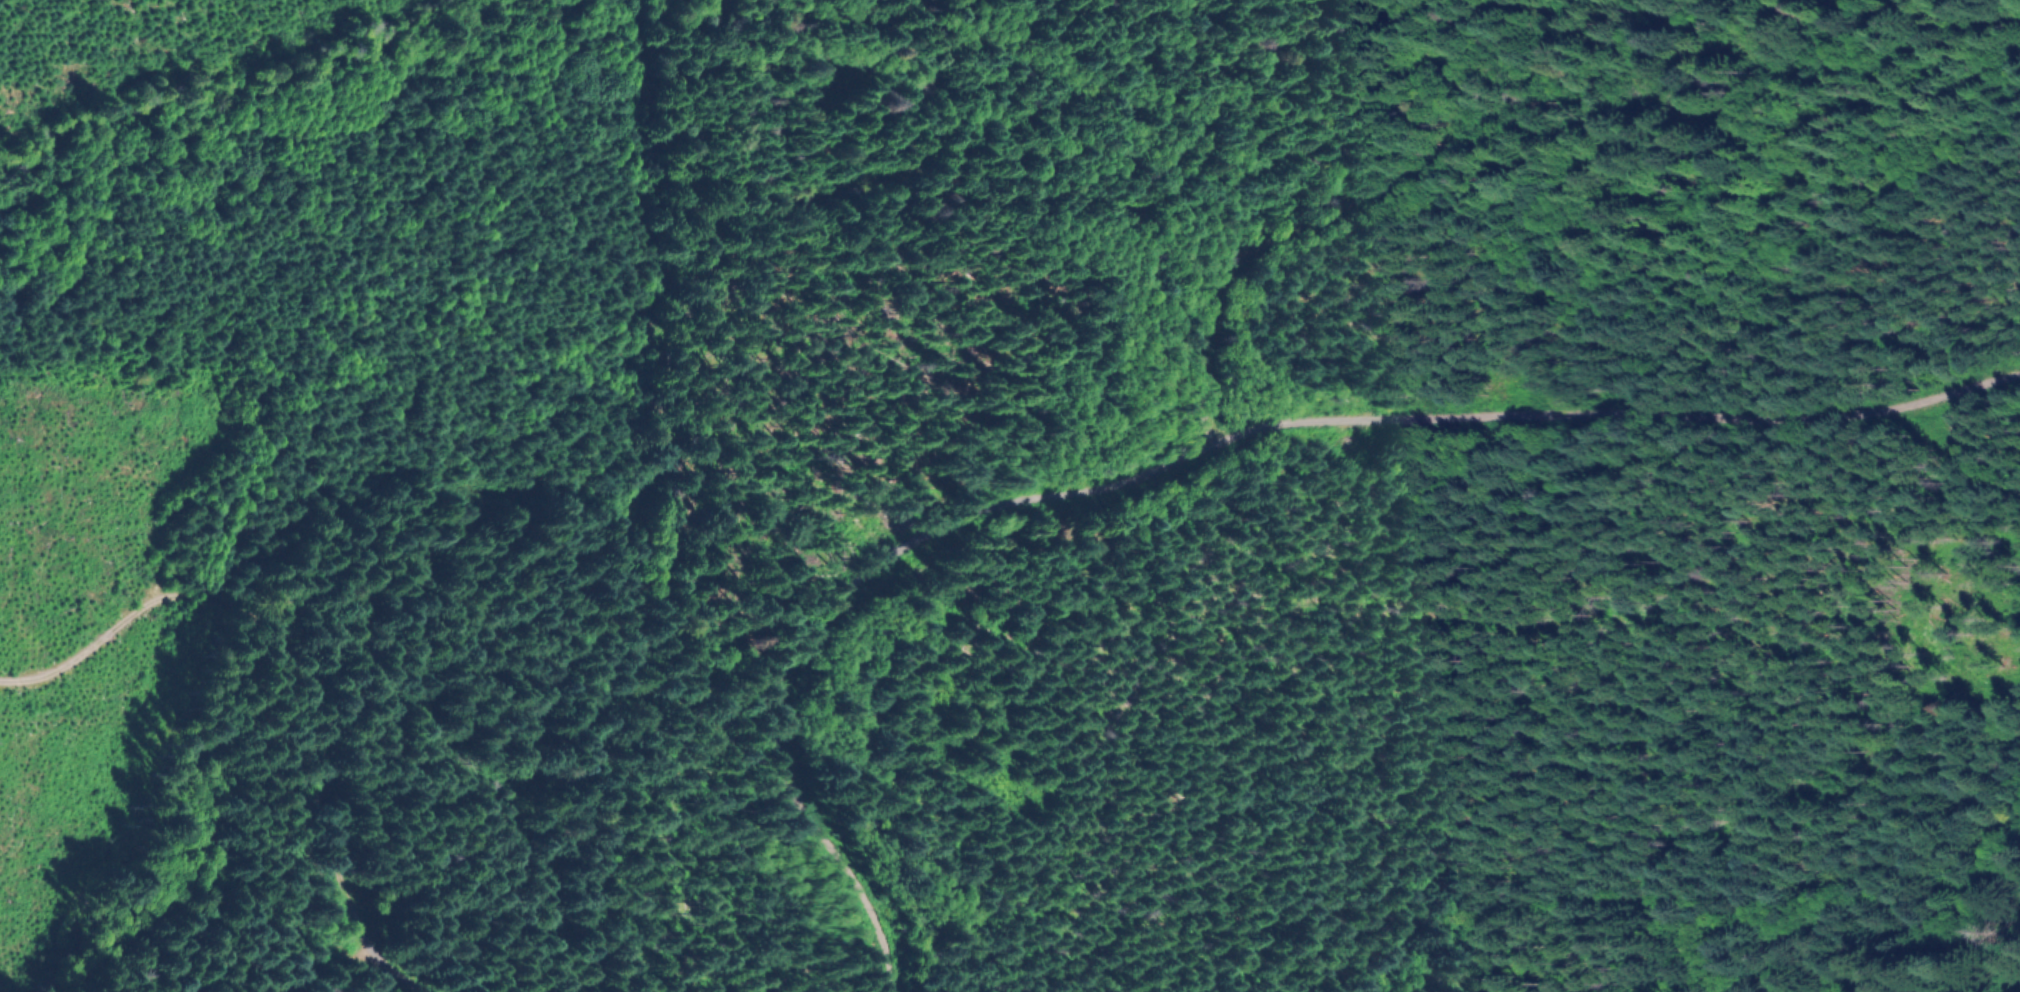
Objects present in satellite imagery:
road: (1335, 217)
road: (1207, 456)
road: (305, 678)

